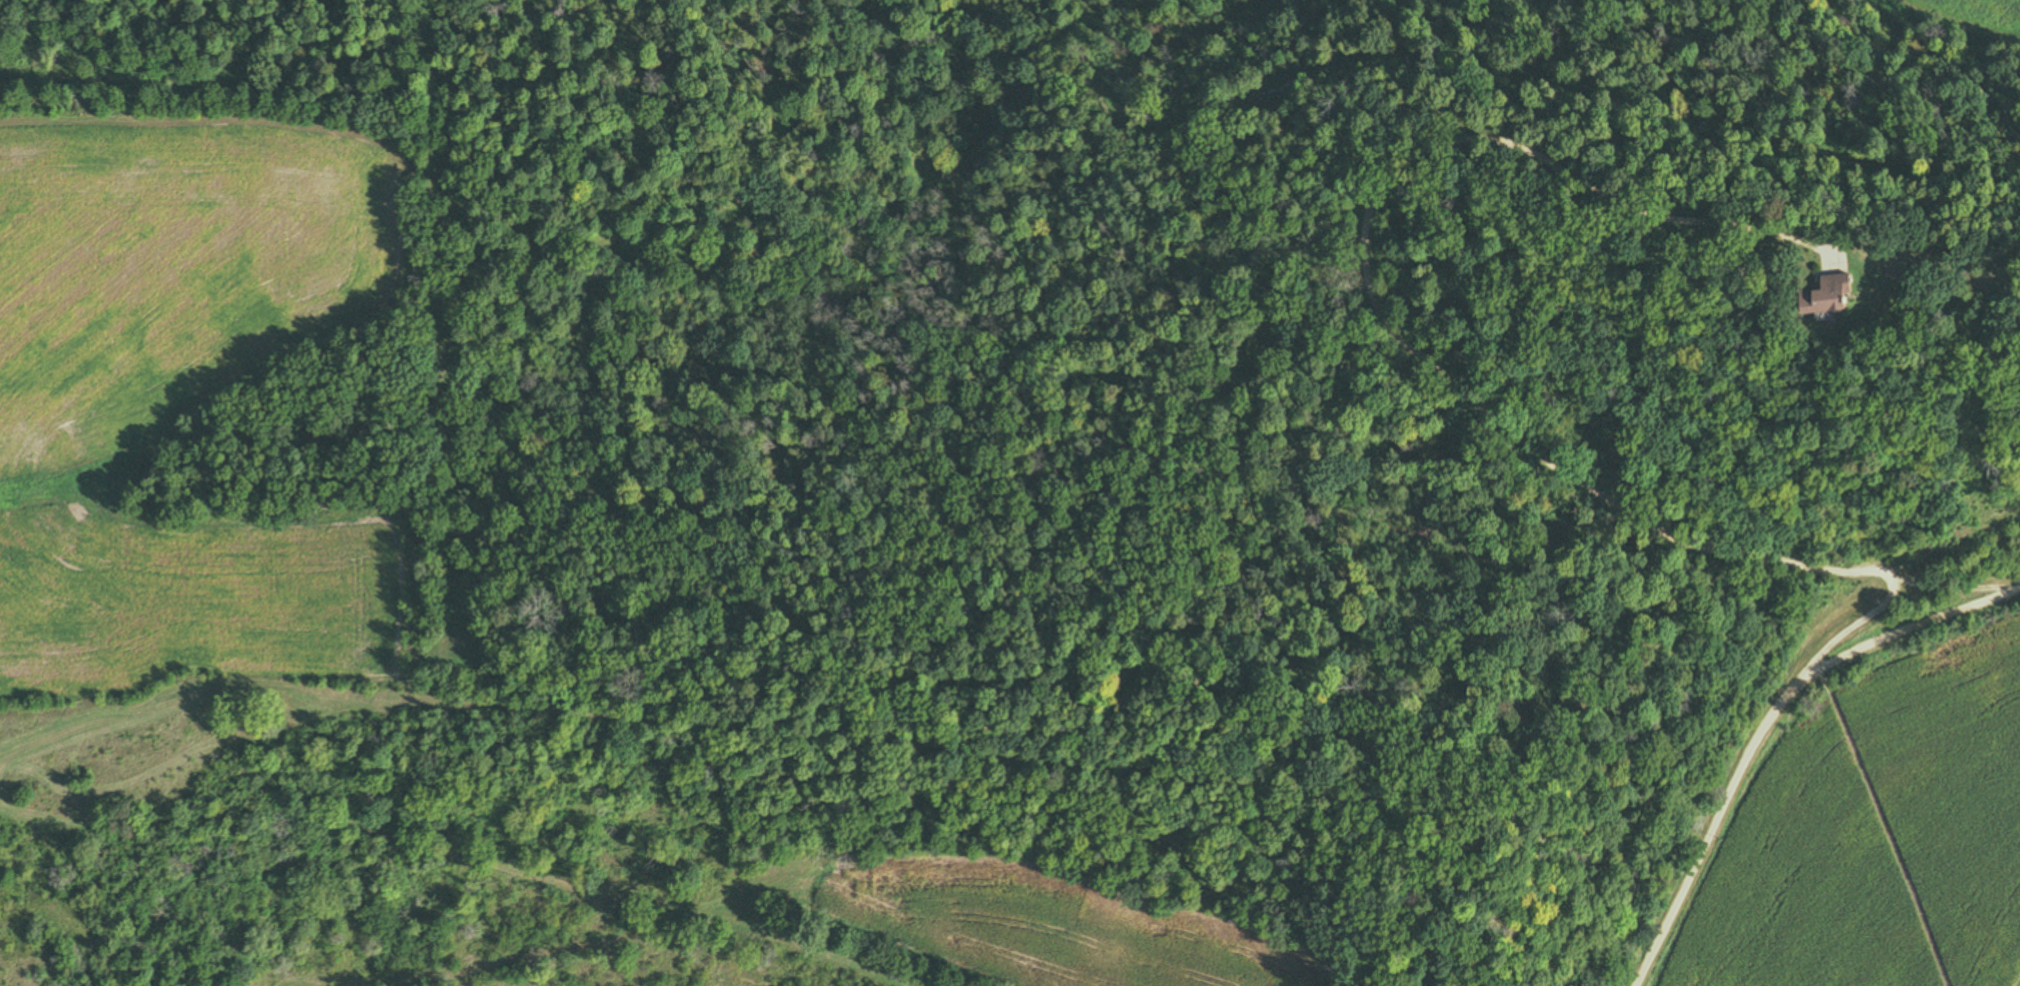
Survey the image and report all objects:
building: (1837, 295)
road: (1417, 350)
road: (1851, 656)
road: (1709, 824)

